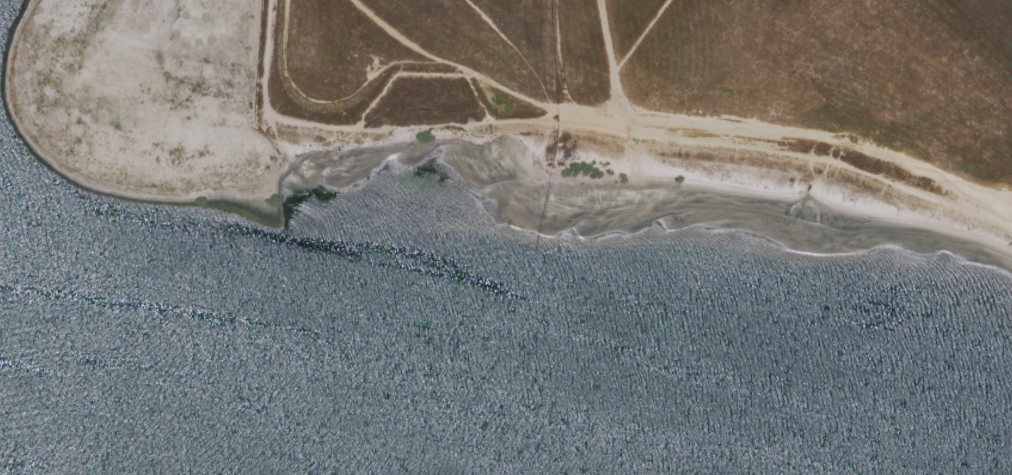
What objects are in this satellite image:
road: (622, 52)
park: (541, 101)
road: (742, 132)
road: (1010, 217)

